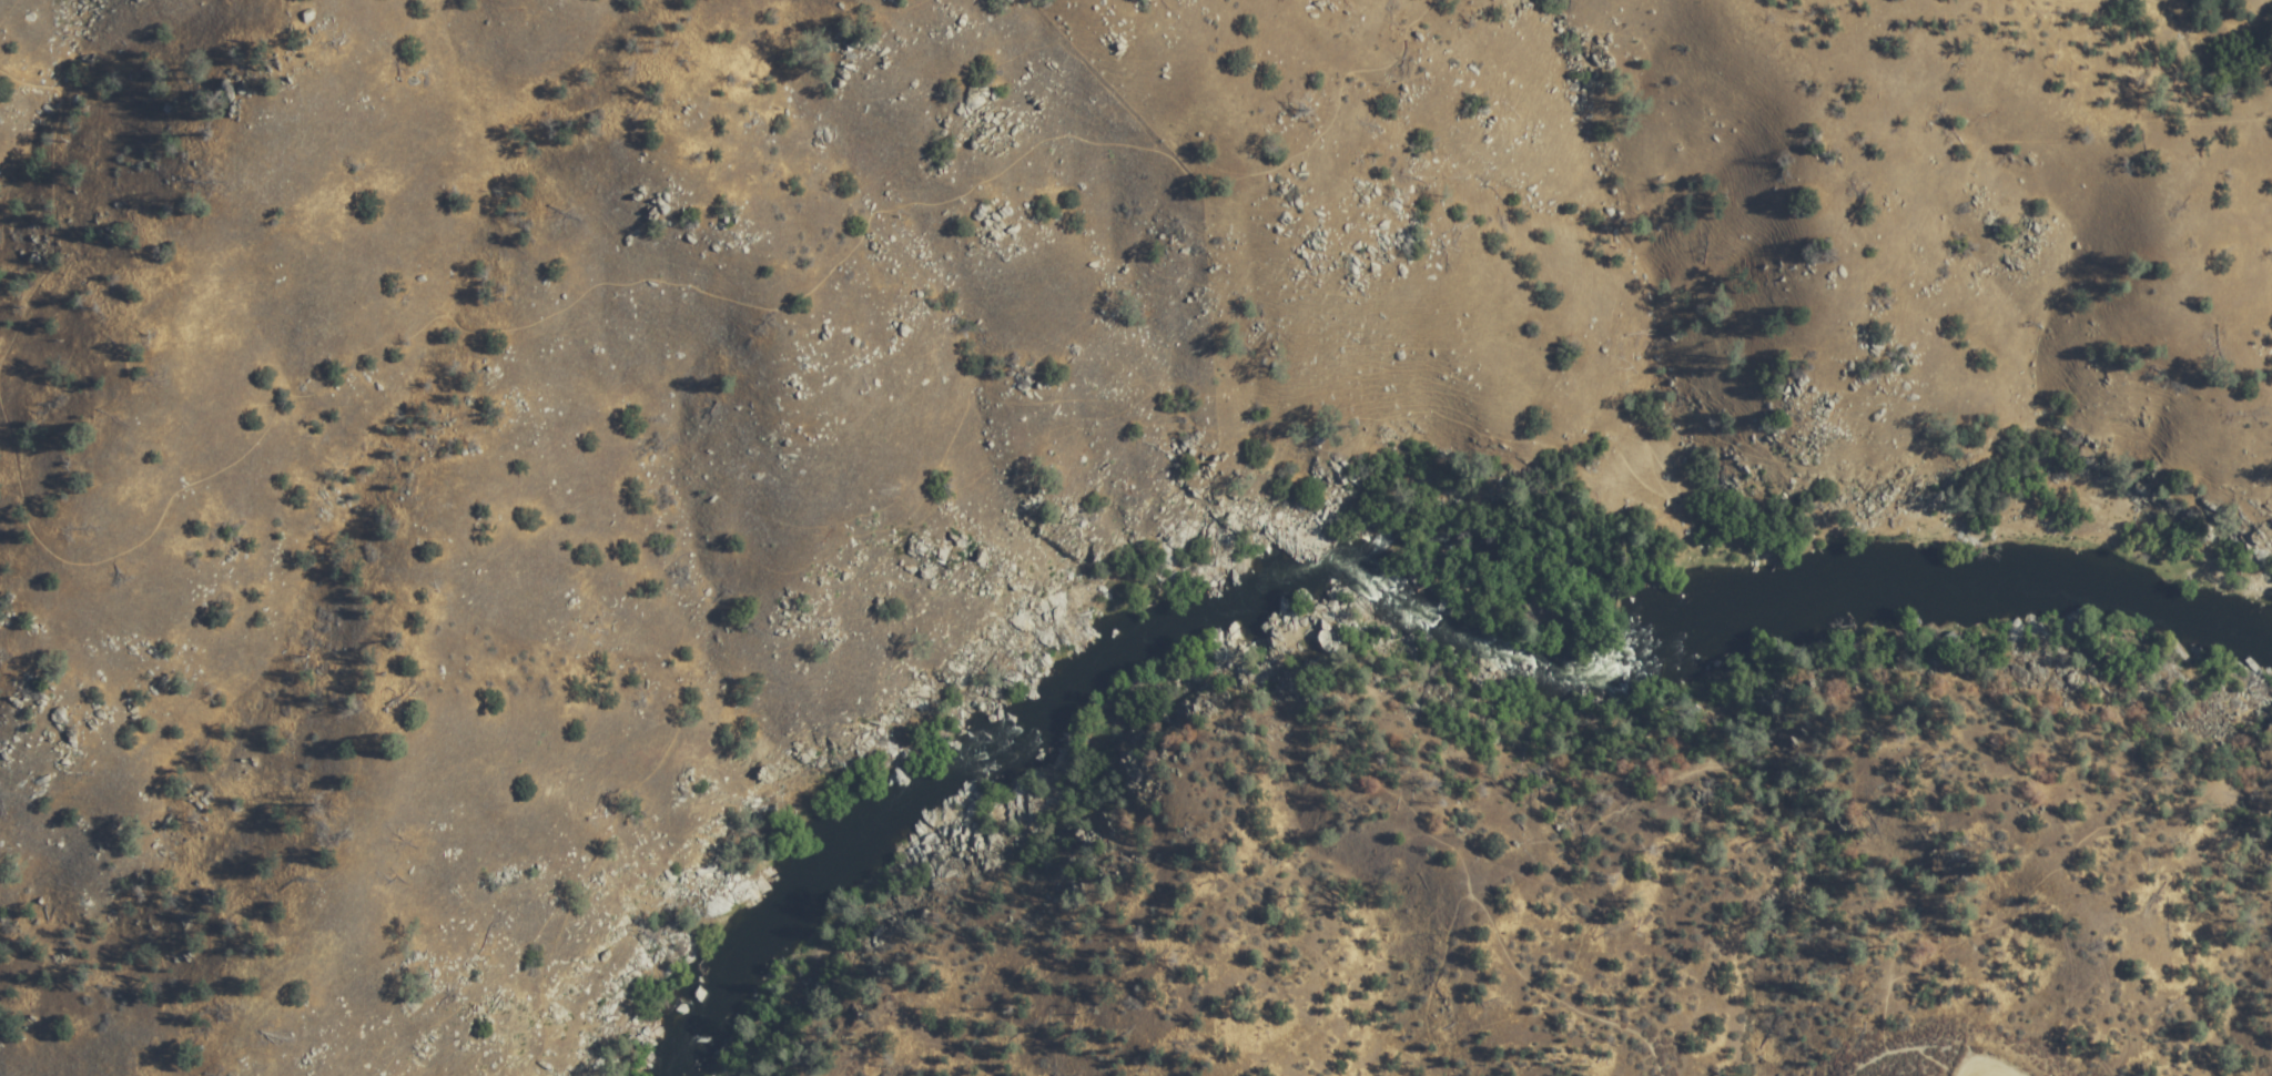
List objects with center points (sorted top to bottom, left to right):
road: (2198, 13)
road: (49, 201)
road: (681, 283)
river: (1397, 598)

